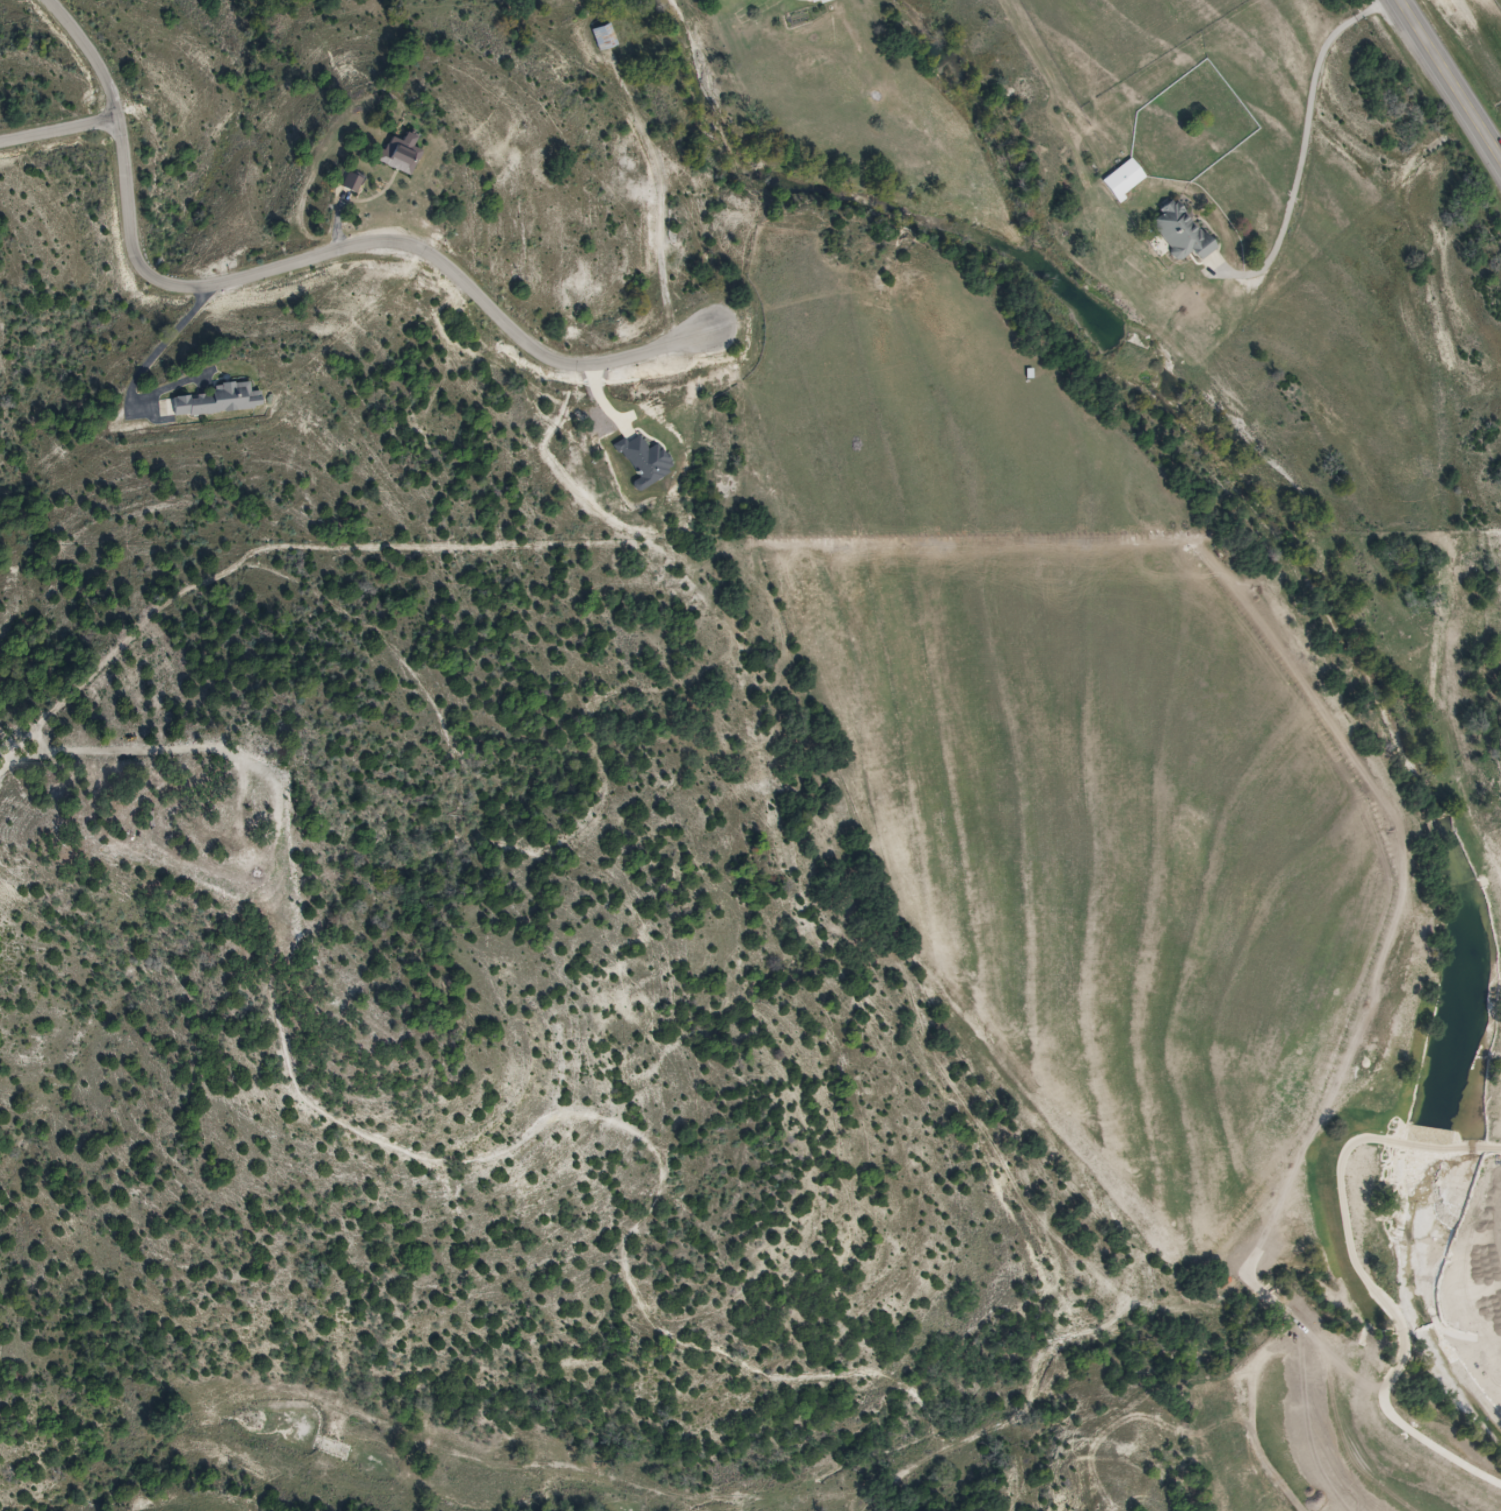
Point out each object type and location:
building: (818, 1)
building: (604, 37)
road: (1451, 80)
road: (62, 138)
building: (403, 154)
building: (1127, 180)
building: (353, 183)
building: (1184, 232)
road: (306, 267)
road: (147, 374)
building: (215, 401)

